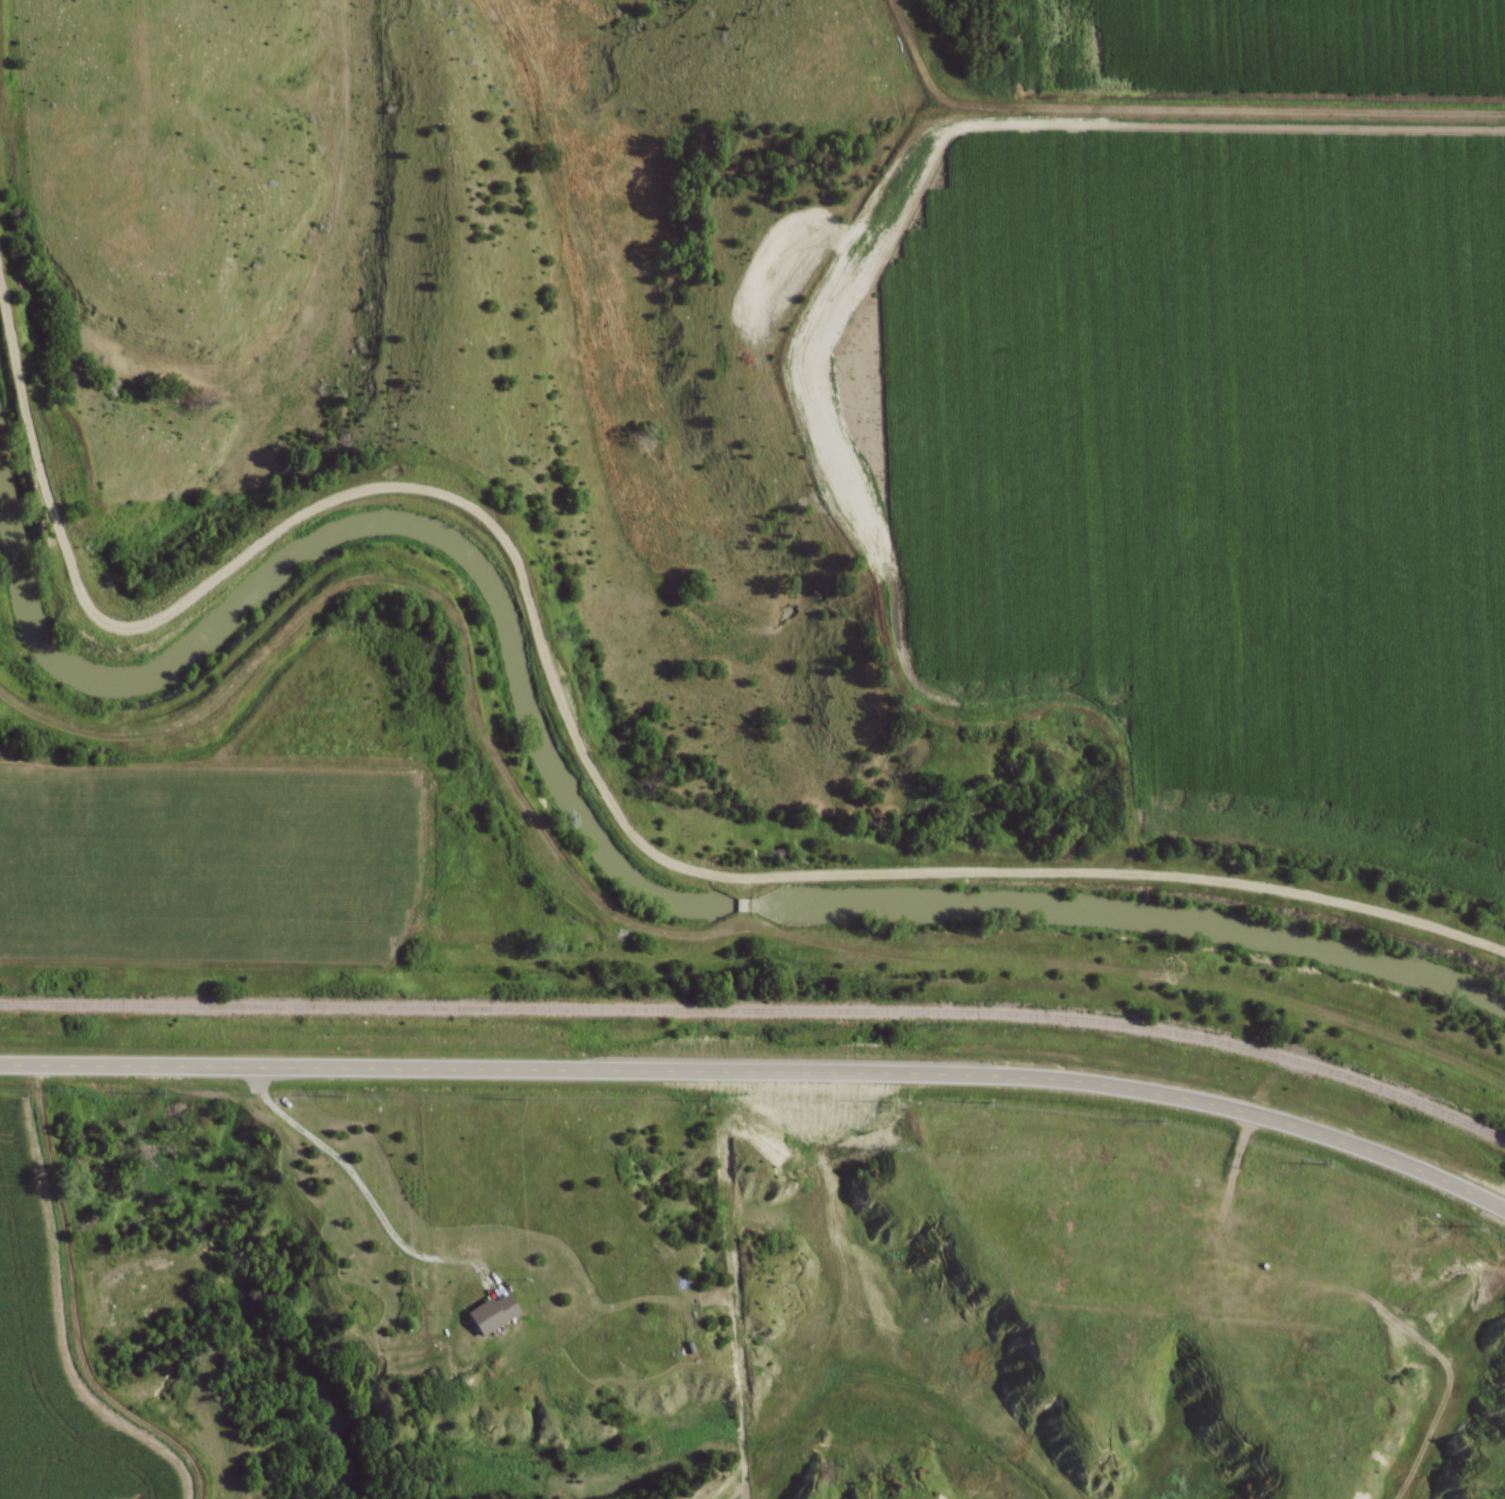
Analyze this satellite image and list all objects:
road: (569, 728)
crop: (202, 862)
railway: (762, 1024)
road: (763, 1074)
crop: (50, 1372)

